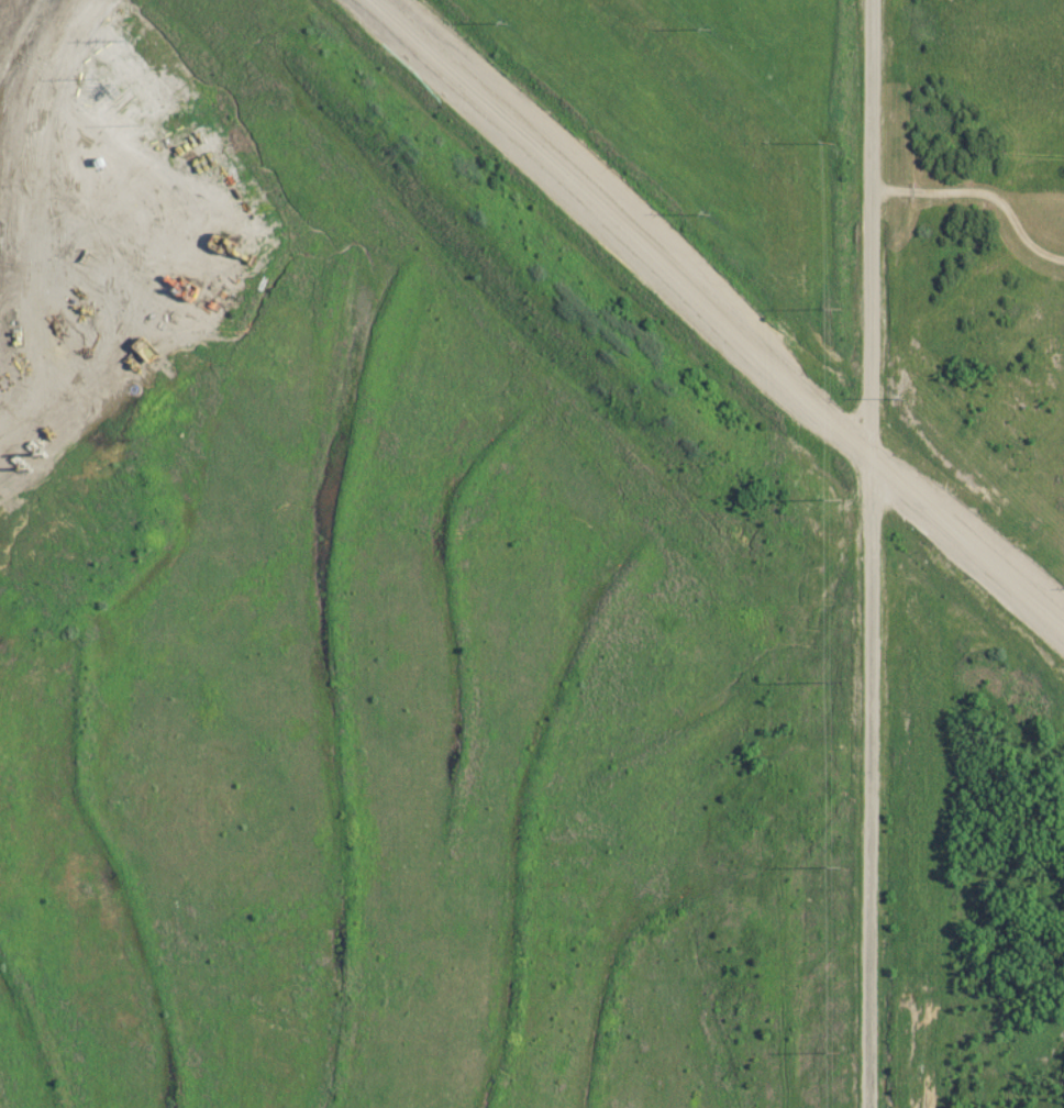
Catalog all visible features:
road: (982, 193)
road: (622, 230)
road: (966, 550)
road: (867, 553)
quarry: (339, 588)

